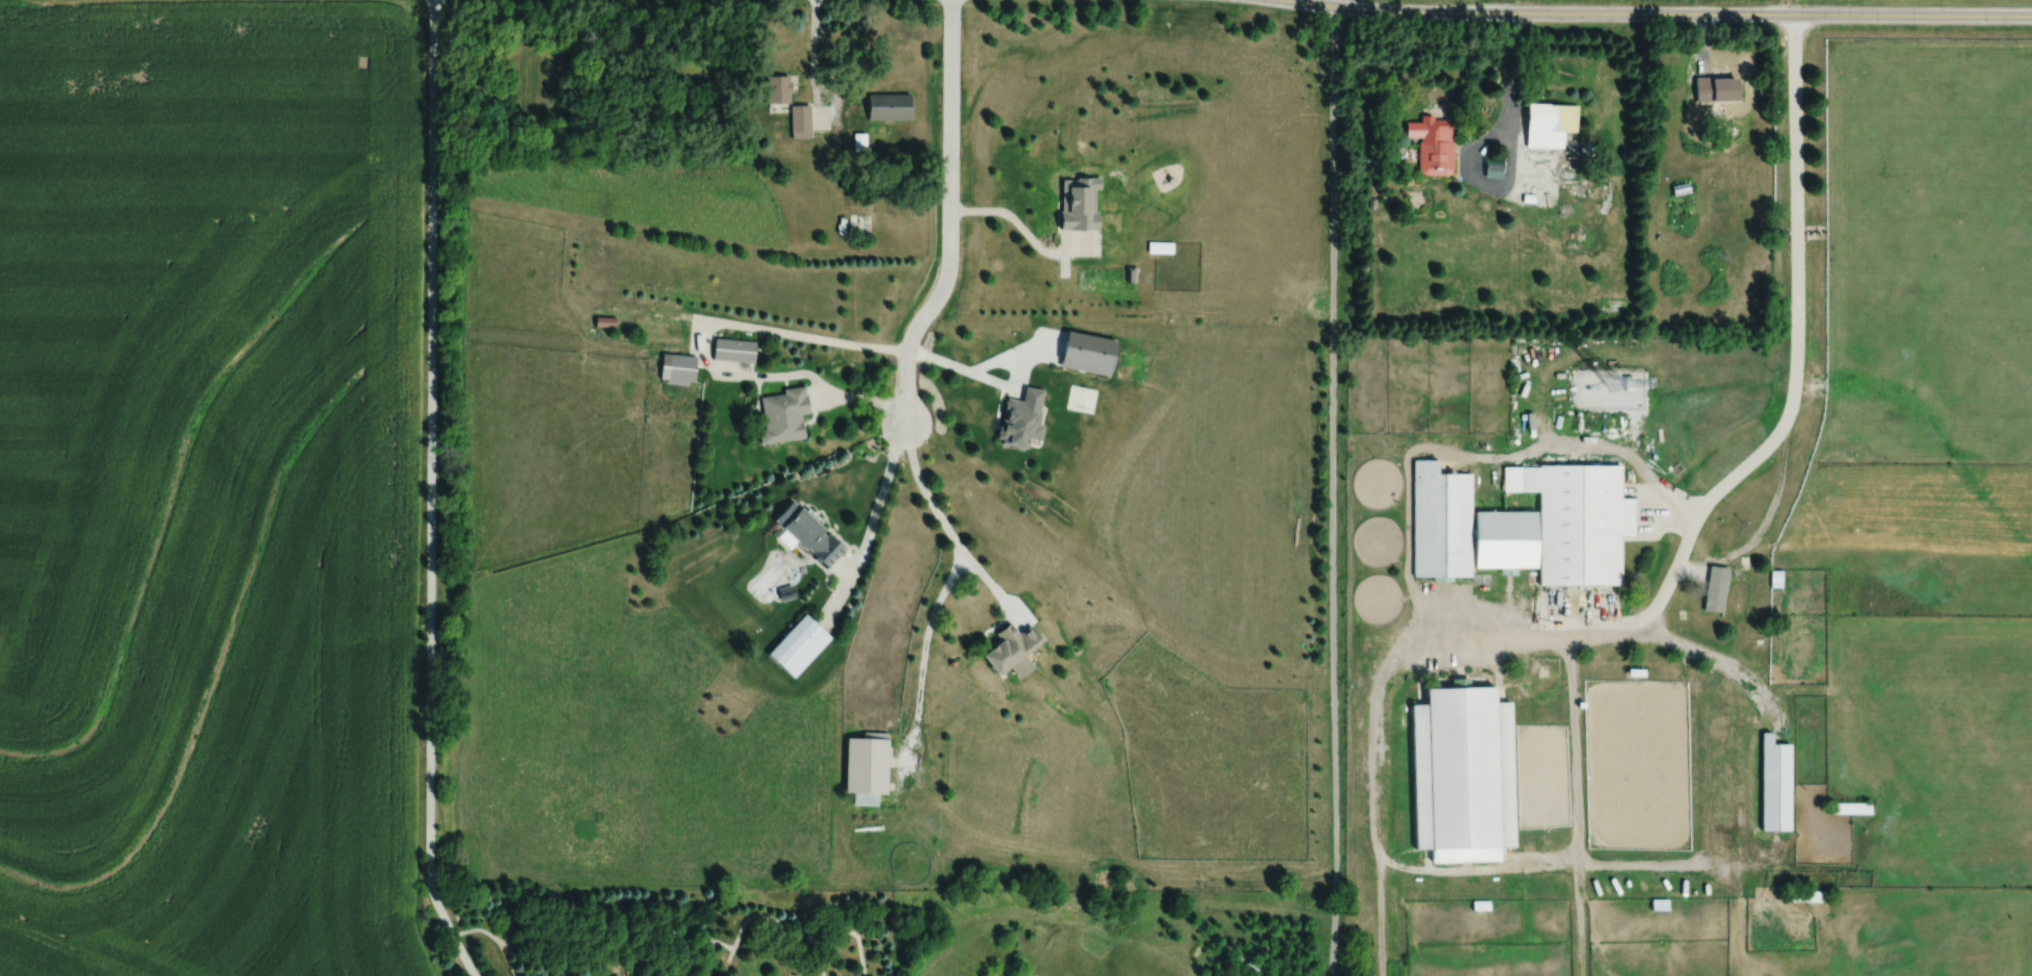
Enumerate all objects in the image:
road: (1330, 2)
road: (1664, 12)
road: (1509, 57)
road: (812, 64)
road: (833, 72)
building: (778, 88)
building: (1717, 89)
building: (889, 106)
building: (800, 121)
building: (1550, 121)
building: (1433, 144)
building: (1493, 169)
road: (1486, 182)
building: (1079, 202)
building: (1683, 203)
road: (949, 217)
building: (859, 224)
road: (1023, 228)
road: (1080, 241)
road: (1063, 265)
road: (712, 318)
building: (733, 349)
road: (1015, 353)
building: (678, 368)
road: (960, 368)
road: (1018, 373)
road: (821, 396)
road: (870, 399)
building: (784, 416)
road: (1331, 490)
road: (923, 491)
road: (429, 493)
building: (1526, 525)
road: (869, 527)
building: (810, 533)
road: (842, 564)
building: (1776, 581)
road: (994, 588)
building: (1716, 589)
road: (1531, 635)
building: (799, 646)
building: (1014, 650)
road: (922, 666)
building: (866, 766)
building: (1462, 775)
building: (1775, 784)
building: (1850, 808)

